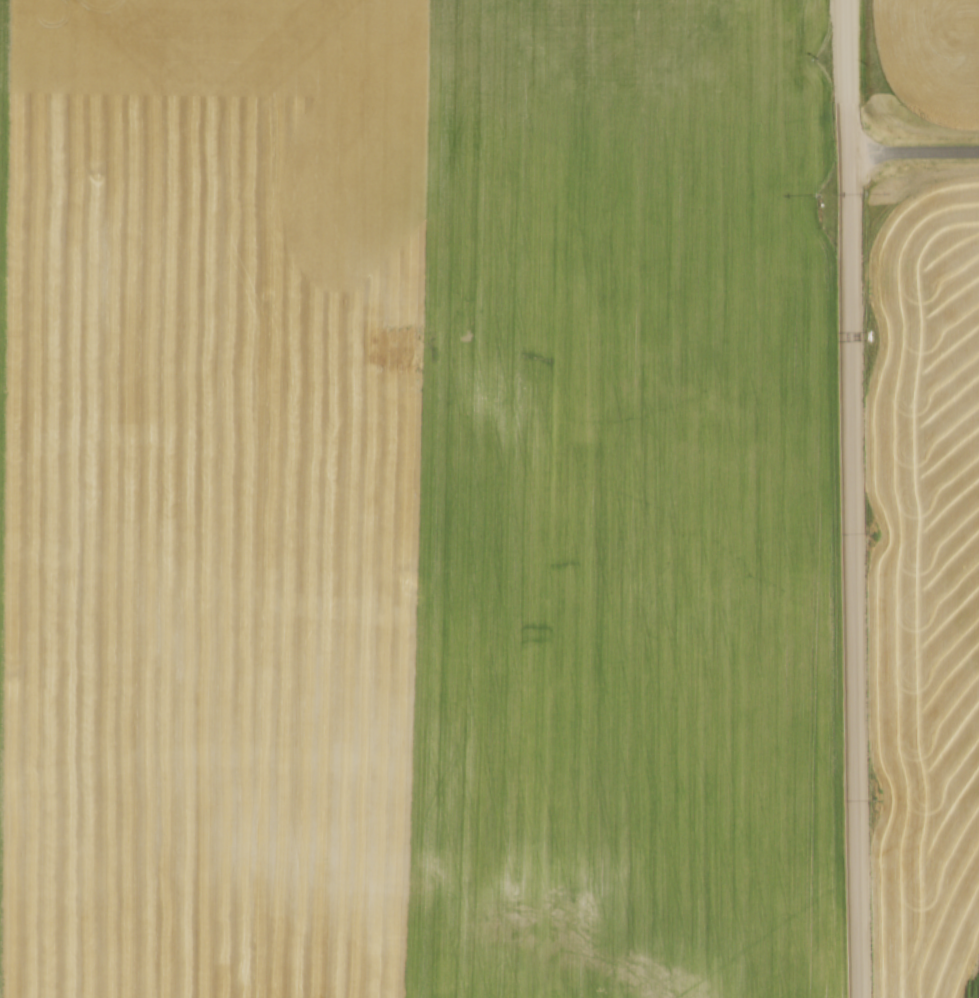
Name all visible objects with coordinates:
road: (915, 149)
road: (856, 498)

